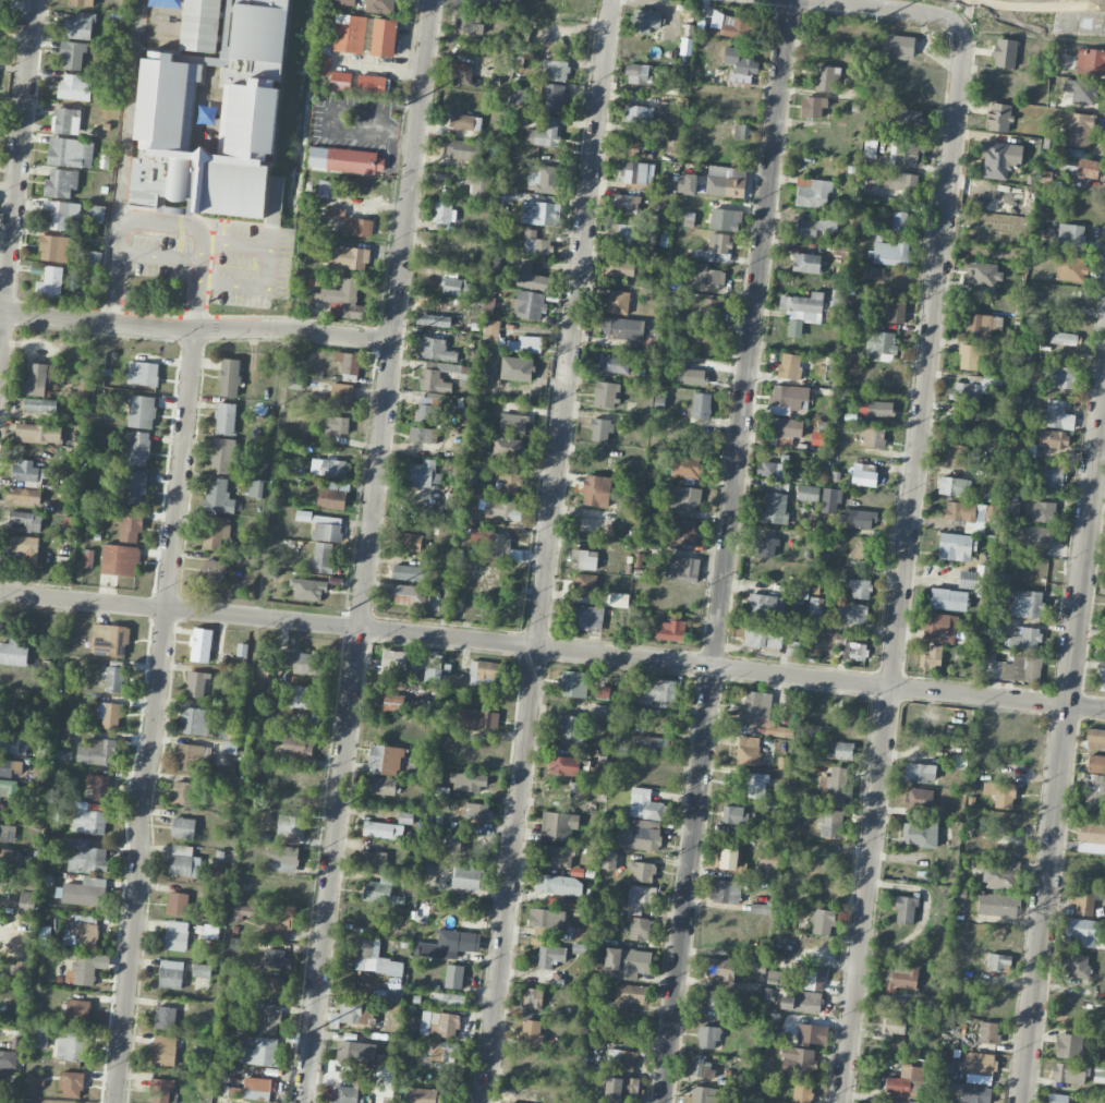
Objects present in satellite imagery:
building: (81, 2)
building: (344, 2)
building: (481, 3)
building: (380, 5)
road: (1047, 5)
building: (0, 7)
road: (892, 8)
power tower: (876, 19)
building: (646, 21)
building: (469, 23)
building: (201, 25)
building: (80, 26)
building: (733, 28)
building: (259, 29)
building: (349, 34)
building: (384, 37)
building: (901, 46)
building: (1005, 52)
building: (73, 53)
building: (220, 58)
building: (1091, 61)
building: (324, 64)
building: (740, 66)
building: (555, 70)
building: (635, 71)
building: (462, 73)
building: (826, 77)
building: (340, 81)
building: (640, 81)
building: (372, 84)
building: (74, 87)
building: (1081, 90)
building: (550, 97)
power tower: (408, 101)
building: (813, 106)
road: (127, 111)
building: (165, 111)
building: (636, 113)
building: (998, 117)
building: (66, 120)
building: (904, 121)
building: (463, 122)
building: (1078, 129)
building: (741, 131)
building: (544, 133)
building: (465, 149)
building: (1074, 150)
building: (71, 151)
building: (908, 154)
building: (999, 159)
building: (347, 160)
road: (17, 166)
building: (1088, 168)
building: (635, 172)
building: (1045, 178)
building: (543, 179)
building: (724, 182)
building: (901, 182)
building: (61, 183)
building: (687, 183)
building: (479, 187)
building: (329, 189)
building: (813, 193)
building: (627, 203)
building: (336, 211)
building: (444, 211)
building: (99, 213)
building: (538, 213)
building: (59, 214)
road: (150, 219)
building: (725, 219)
building: (898, 221)
building: (357, 227)
building: (815, 228)
building: (622, 233)
building: (1071, 237)
building: (535, 244)
building: (54, 247)
building: (717, 247)
road: (202, 250)
building: (890, 253)
road: (159, 255)
building: (349, 257)
building: (95, 258)
building: (806, 263)
road: (270, 265)
building: (621, 268)
building: (1070, 268)
road: (201, 270)
building: (983, 274)
building: (708, 276)
building: (530, 277)
building: (50, 283)
road: (112, 287)
building: (457, 287)
building: (344, 300)
building: (617, 302)
building: (530, 304)
road: (198, 306)
building: (715, 310)
building: (801, 311)
building: (896, 312)
building: (434, 319)
building: (981, 323)
building: (623, 328)
building: (490, 329)
road: (195, 330)
building: (1064, 338)
building: (526, 343)
building: (879, 346)
building: (435, 349)
power tower: (377, 351)
building: (969, 356)
building: (348, 362)
building: (614, 364)
building: (789, 366)
building: (143, 373)
building: (695, 374)
building: (1061, 376)
building: (38, 377)
building: (229, 377)
building: (435, 377)
building: (970, 389)
building: (83, 390)
building: (605, 393)
building: (341, 396)
building: (787, 399)
building: (39, 404)
building: (701, 404)
building: (879, 409)
building: (427, 410)
building: (141, 411)
building: (462, 415)
building: (1058, 415)
building: (224, 419)
building: (955, 421)
building: (513, 423)
building: (336, 425)
building: (785, 428)
building: (600, 429)
building: (38, 433)
building: (421, 434)
building: (873, 436)
building: (1053, 438)
building: (1015, 439)
building: (506, 447)
building: (138, 448)
building: (1029, 449)
building: (221, 454)
building: (958, 456)
building: (687, 466)
building: (328, 468)
building: (769, 469)
building: (28, 471)
building: (423, 473)
building: (864, 474)
building: (1053, 477)
building: (509, 483)
building: (134, 486)
building: (954, 486)
building: (256, 487)
building: (596, 490)
building: (807, 493)
building: (218, 495)
building: (27, 496)
building: (332, 496)
building: (683, 498)
building: (456, 500)
building: (830, 500)
building: (774, 508)
building: (502, 509)
building: (1010, 509)
building: (1046, 511)
building: (970, 513)
building: (861, 519)
building: (27, 520)
building: (130, 525)
building: (324, 526)
building: (683, 532)
building: (216, 533)
building: (1033, 537)
building: (409, 542)
building: (23, 544)
building: (496, 544)
building: (766, 546)
building: (955, 546)
building: (863, 549)
road: (367, 550)
road: (546, 550)
road: (728, 551)
building: (321, 557)
building: (88, 558)
building: (120, 559)
building: (583, 559)
building: (637, 559)
road: (901, 567)
building: (682, 568)
building: (214, 572)
building: (408, 572)
building: (975, 579)
building: (585, 585)
building: (307, 587)
building: (801, 589)
building: (860, 589)
building: (408, 594)
building: (619, 599)
building: (948, 599)
building: (1027, 603)
building: (766, 604)
building: (816, 604)
power tower: (347, 611)
building: (853, 613)
building: (585, 617)
building: (938, 627)
building: (763, 637)
building: (1024, 638)
building: (109, 640)
building: (201, 644)
road: (552, 647)
building: (793, 647)
building: (242, 649)
building: (1103, 649)
building: (854, 651)
building: (14, 653)
building: (932, 657)
building: (394, 660)
building: (303, 663)
building: (264, 668)
building: (434, 669)
building: (1021, 669)
building: (486, 670)
building: (112, 678)
building: (452, 679)
building: (1102, 680)
building: (196, 683)
building: (573, 683)
building: (656, 689)
building: (603, 692)
building: (304, 698)
building: (416, 699)
building: (391, 702)
building: (756, 708)
building: (603, 711)
building: (109, 715)
road: (155, 717)
building: (476, 719)
building: (195, 720)
building: (228, 727)
building: (571, 729)
building: (1095, 738)
road: (1062, 740)
building: (295, 743)
building: (654, 743)
building: (13, 744)
building: (229, 746)
building: (840, 749)
building: (749, 750)
building: (98, 752)
building: (193, 756)
building: (385, 760)
building: (959, 762)
building: (1096, 762)
building: (563, 765)
building: (9, 766)
building: (920, 773)
building: (467, 781)
building: (381, 785)
building: (756, 785)
building: (99, 786)
building: (834, 787)
building: (8, 788)
building: (182, 792)
building: (1000, 793)
building: (919, 799)
building: (645, 805)
building: (478, 812)
power tower: (324, 813)
building: (733, 814)
building: (89, 817)
building: (829, 822)
building: (558, 825)
building: (183, 827)
building: (290, 827)
building: (382, 829)
building: (7, 833)
building: (639, 834)
building: (920, 834)
building: (1091, 838)
building: (452, 841)
building: (8, 853)
building: (557, 856)
building: (86, 857)
building: (282, 859)
building: (608, 859)
building: (728, 859)
building: (373, 860)
building: (184, 861)
building: (768, 865)
building: (642, 872)
building: (1001, 876)
building: (466, 877)
building: (558, 884)
building: (380, 890)
building: (726, 890)
building: (84, 892)
building: (27, 897)
building: (641, 898)
building: (1083, 901)
building: (177, 904)
building: (997, 905)
building: (904, 910)
building: (242, 912)
building: (546, 918)
building: (822, 921)
building: (278, 924)
building: (640, 929)
building: (210, 931)
building: (1081, 931)
building: (81, 934)
building: (45, 935)
building: (175, 935)
building: (236, 944)
building: (448, 944)
building: (550, 955)
building: (373, 958)
building: (277, 959)
building: (998, 961)
building: (626, 962)
building: (1078, 966)
building: (756, 967)
building: (17, 968)
building: (86, 968)
building: (719, 968)
building: (201, 970)
building: (171, 974)
building: (453, 975)
building: (901, 975)
building: (780, 978)
building: (813, 980)
building: (276, 986)
building: (630, 994)
building: (533, 997)
building: (447, 998)
building: (713, 998)
building: (802, 1002)
building: (618, 1006)
building: (76, 1010)
building: (352, 1013)
building: (165, 1017)
building: (267, 1020)
building: (891, 1022)
building: (439, 1023)
building: (409, 1025)
building: (531, 1031)
building: (988, 1032)
building: (812, 1034)
building: (40, 1037)
building: (707, 1037)
power tower: (297, 1039)
building: (72, 1045)
building: (1069, 1046)
building: (163, 1050)
building: (349, 1051)
building: (441, 1051)
building: (262, 1052)
building: (8, 1058)
building: (623, 1059)
building: (798, 1062)
building: (979, 1063)
building: (762, 1065)
building: (701, 1067)
building: (1069, 1072)
building: (906, 1081)
building: (1, 1083)
building: (71, 1084)
building: (620, 1086)
building: (256, 1088)
building: (161, 1089)
building: (348, 1090)
building: (802, 1092)
building: (973, 1093)
building: (702, 1094)
building: (421, 1095)
building: (1058, 1098)

